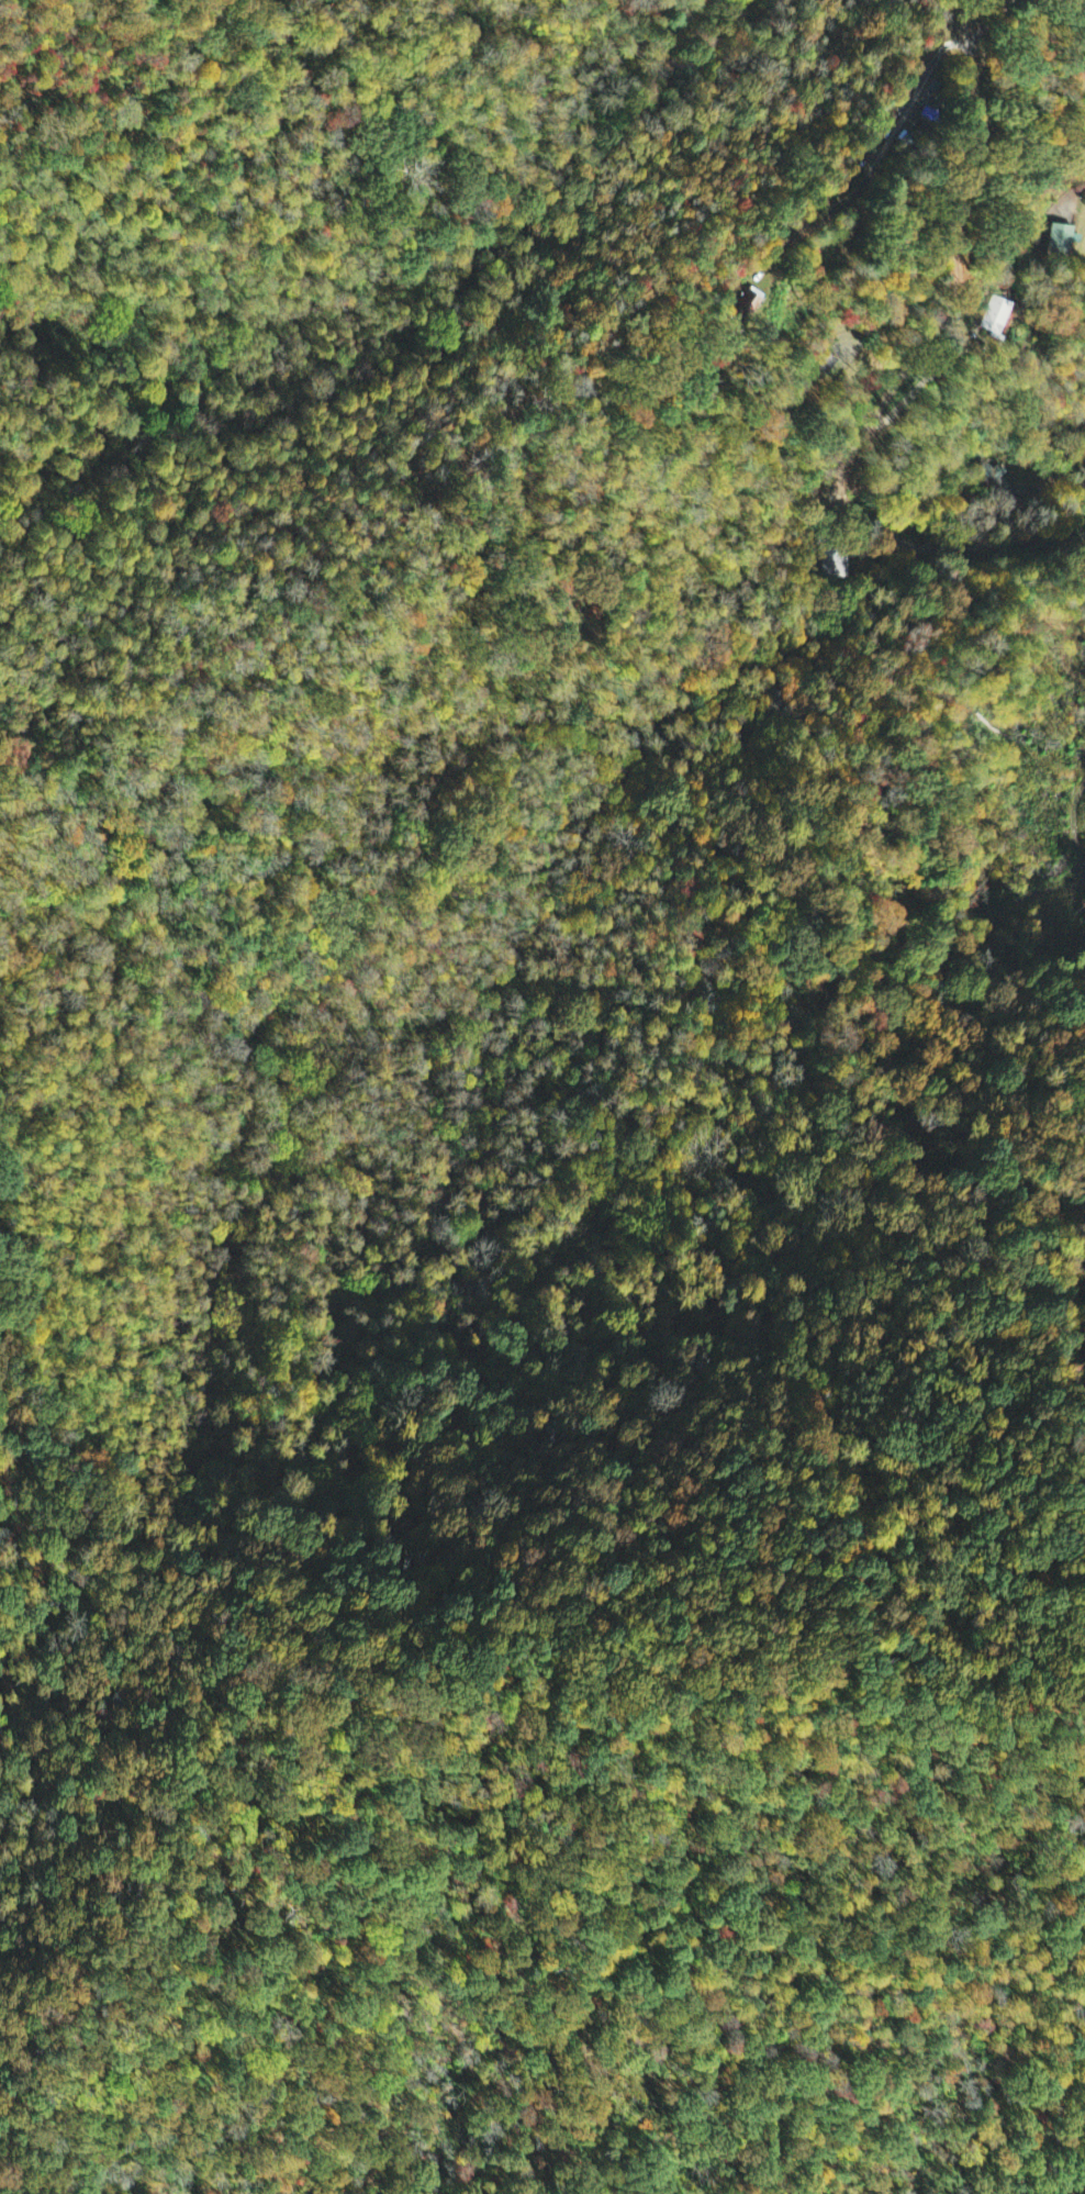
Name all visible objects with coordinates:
building: (920, 121)
building: (1062, 243)
road: (954, 271)
building: (824, 368)

